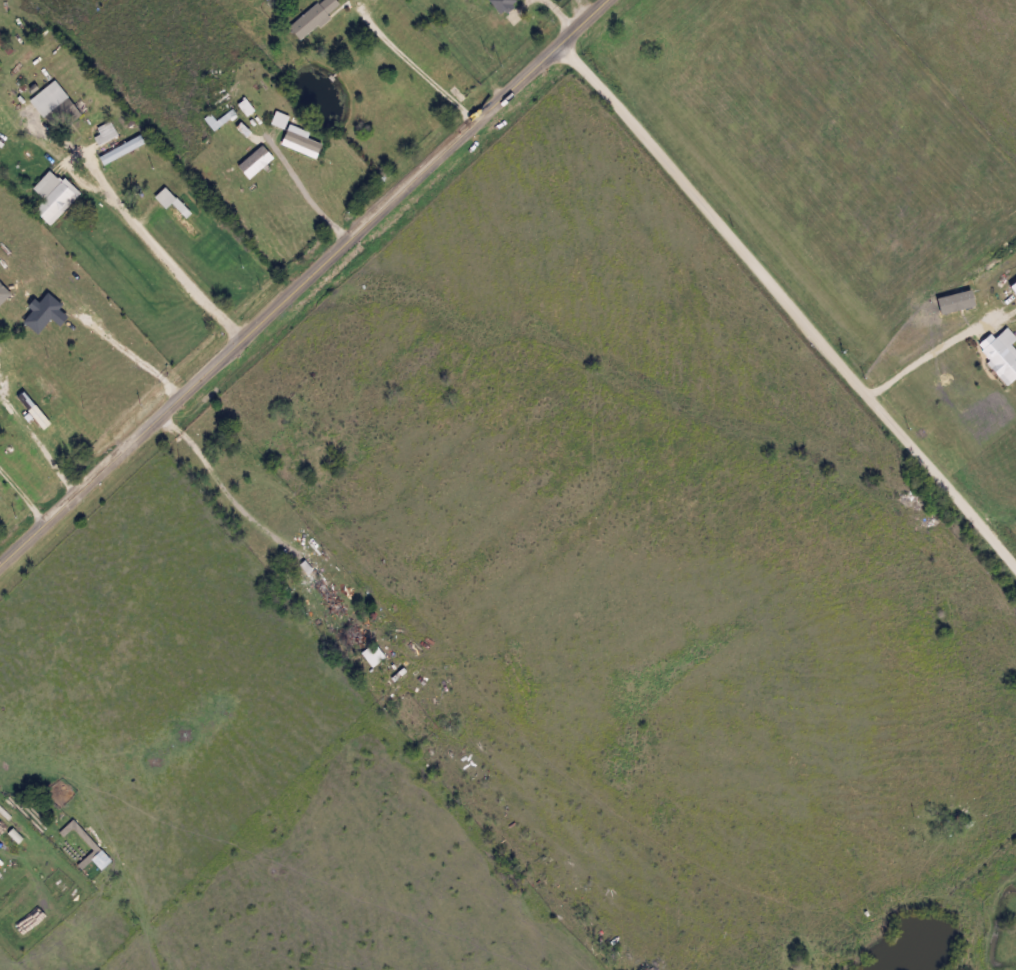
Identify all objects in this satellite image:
building: (499, 4)
road: (562, 15)
building: (312, 17)
road: (463, 49)
road: (412, 62)
building: (54, 107)
building: (112, 142)
building: (253, 161)
road: (308, 184)
building: (52, 196)
building: (173, 210)
road: (159, 253)
road: (305, 287)
road: (788, 306)
road: (932, 353)
building: (1000, 358)
road: (134, 362)
road: (43, 446)
road: (229, 497)
road: (24, 499)
building: (328, 598)
building: (354, 633)
building: (370, 654)
building: (51, 835)

